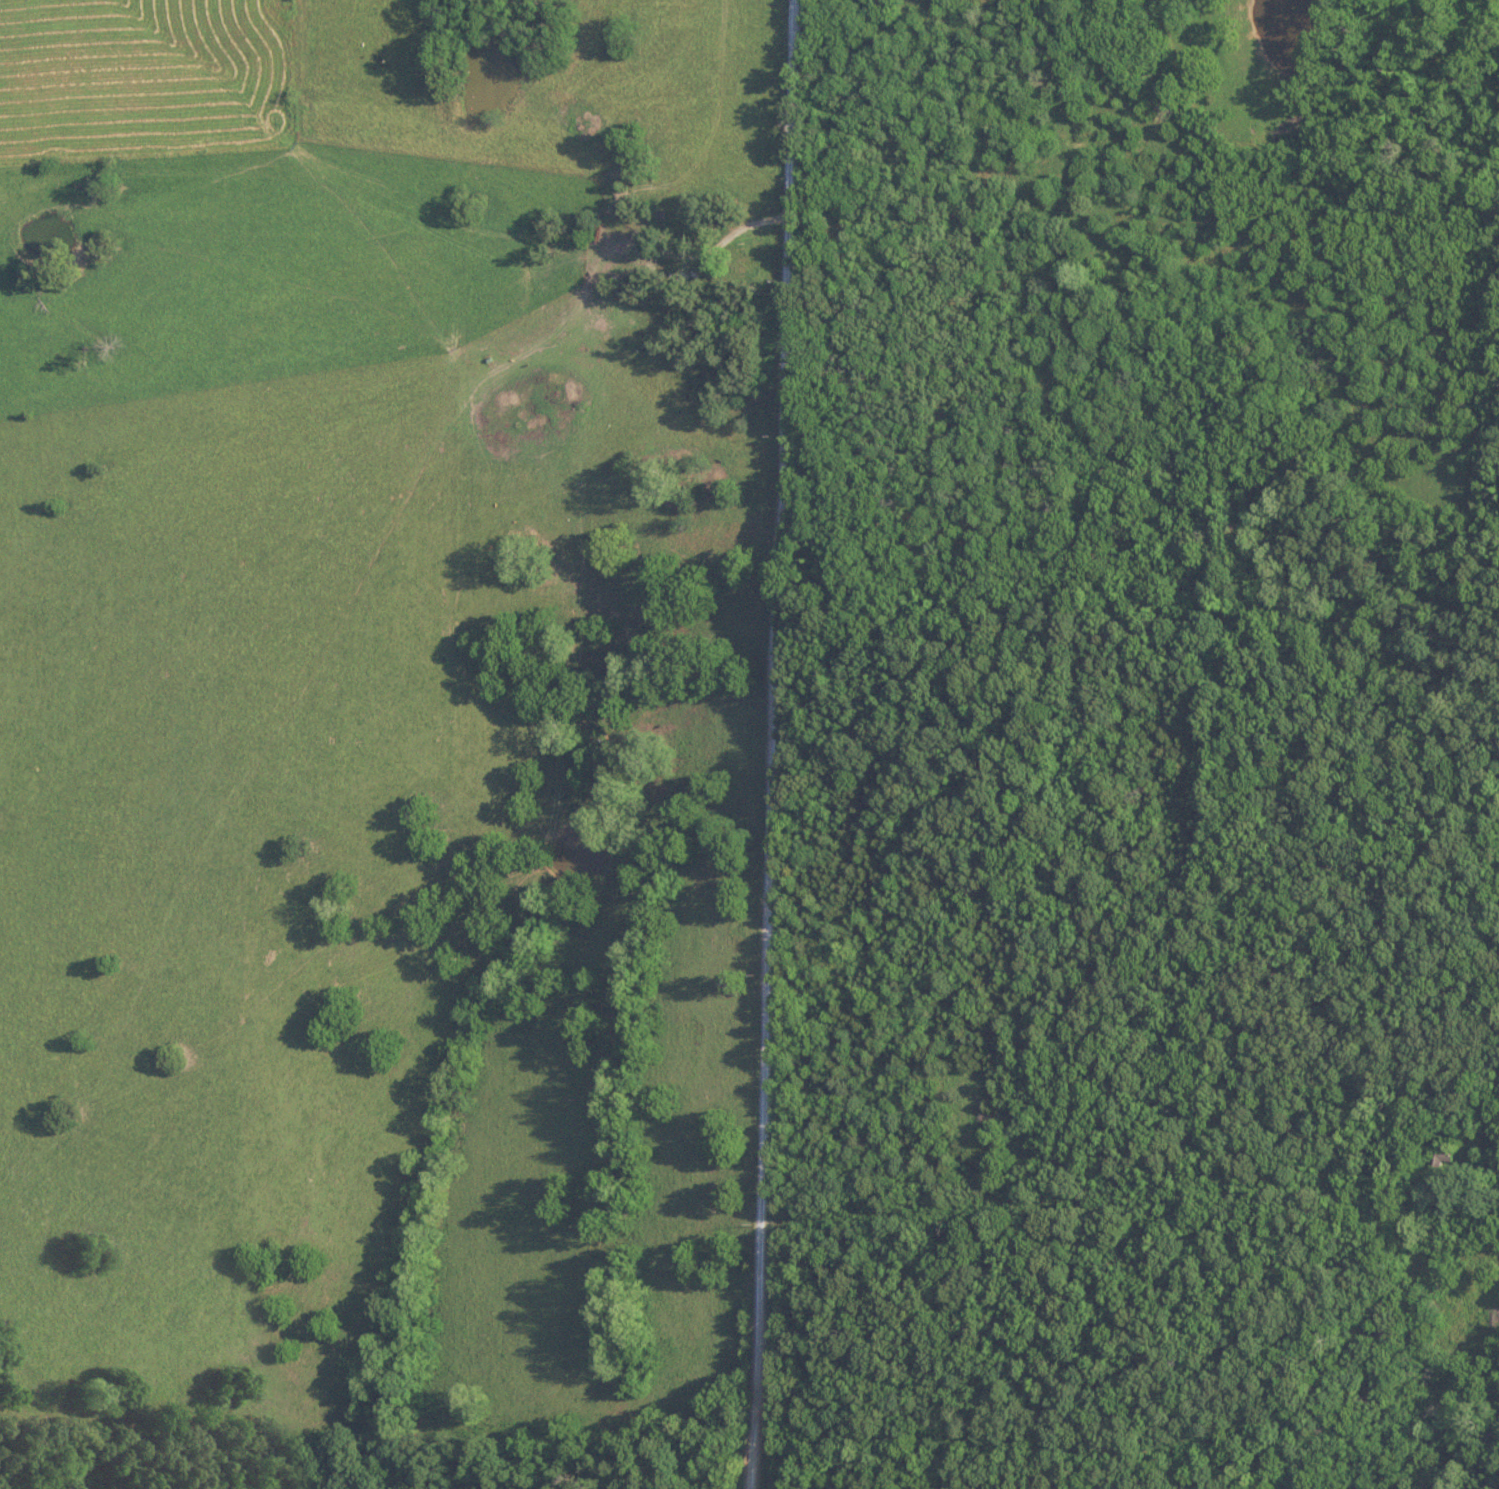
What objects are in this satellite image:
road: (776, 744)
building: (1441, 1158)

